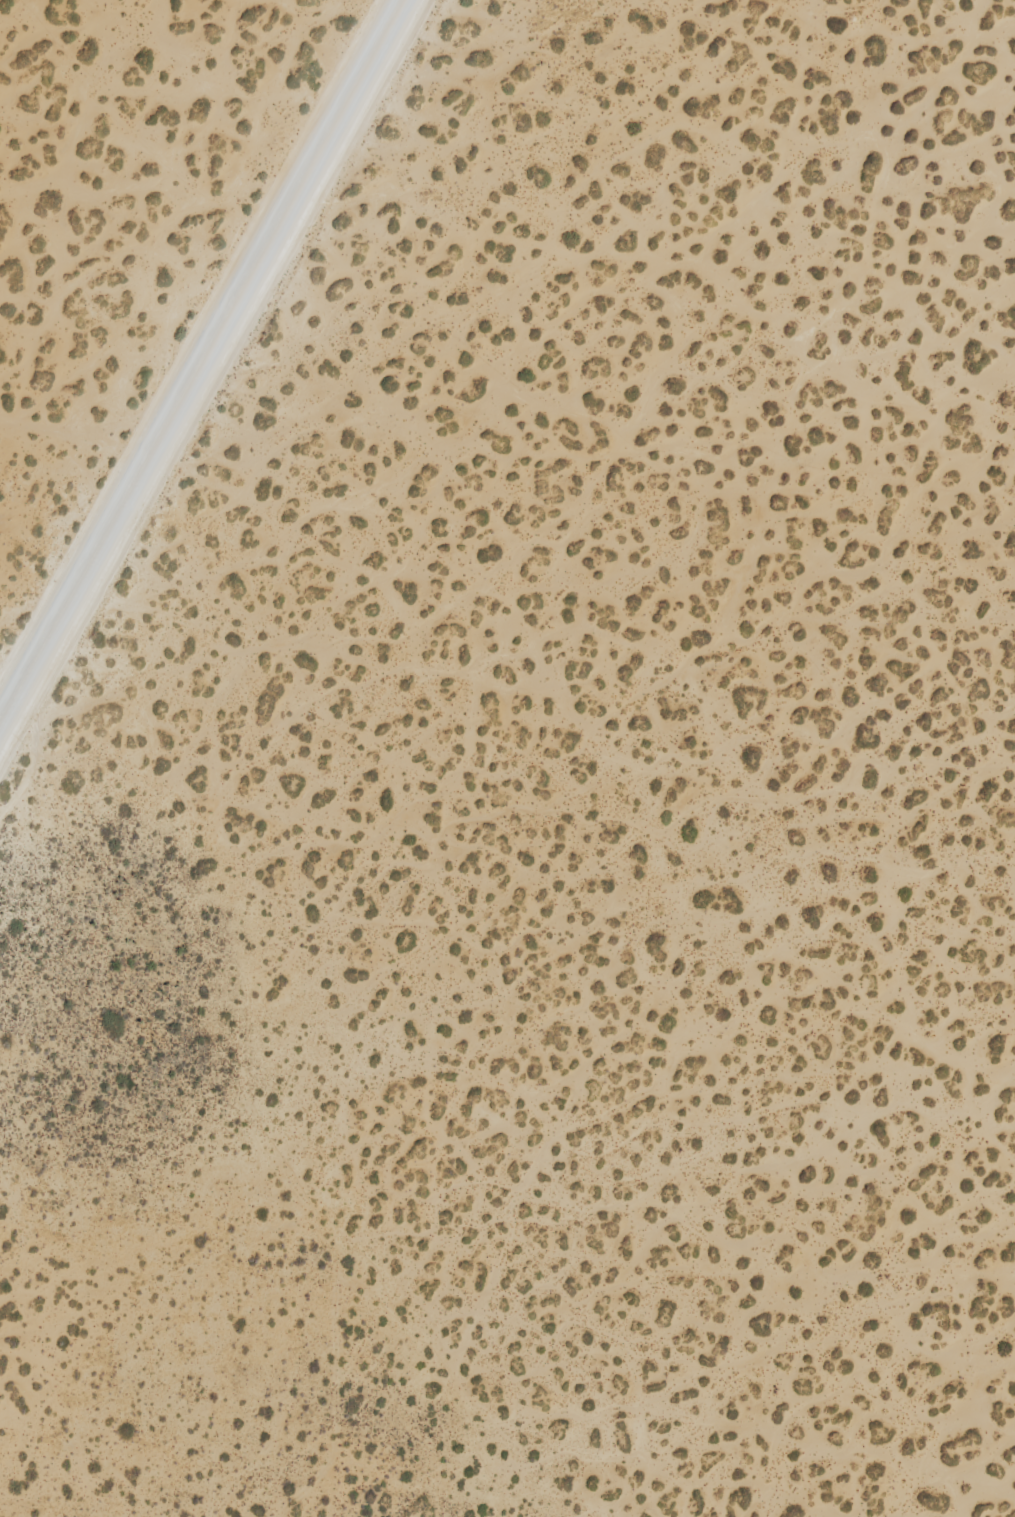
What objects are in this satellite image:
road: (200, 360)

